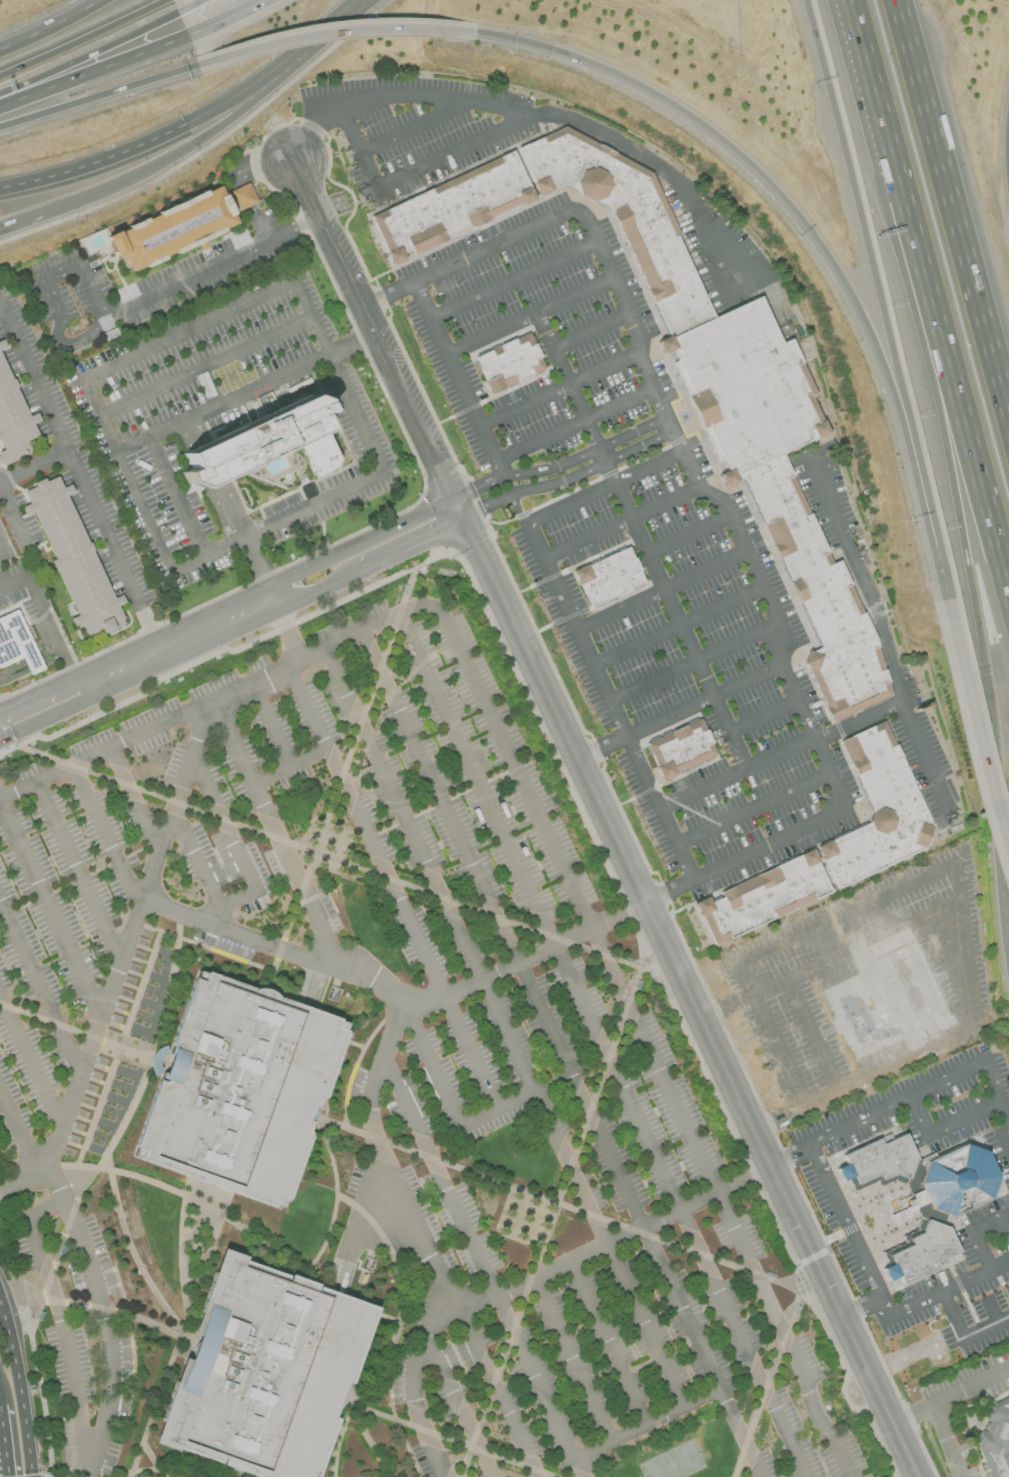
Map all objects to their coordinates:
road: (189, 4)
road: (222, 15)
road: (346, 18)
road: (48, 24)
road: (336, 24)
road: (80, 36)
road: (91, 51)
road: (94, 68)
road: (872, 79)
road: (101, 90)
road: (542, 112)
road: (415, 126)
parking lot: (417, 131)
road: (171, 132)
road: (208, 135)
road: (412, 171)
road: (240, 180)
road: (791, 204)
road: (952, 211)
road: (36, 217)
building: (176, 222)
parking lot: (717, 248)
road: (335, 249)
road: (875, 270)
road: (514, 282)
road: (292, 283)
road: (0, 305)
road: (122, 309)
road: (528, 316)
road: (590, 332)
road: (352, 347)
building: (508, 362)
road: (203, 367)
building: (687, 371)
road: (951, 371)
road: (557, 390)
road: (222, 406)
road: (938, 414)
building: (15, 416)
road: (412, 417)
road: (196, 428)
road: (185, 434)
building: (275, 444)
road: (490, 452)
road: (585, 456)
road: (214, 458)
road: (198, 465)
road: (33, 466)
road: (591, 468)
road: (499, 471)
road: (79, 477)
road: (476, 486)
road: (224, 487)
road: (212, 492)
parking lot: (826, 496)
road: (178, 497)
traffic signals: (452, 498)
road: (712, 499)
road: (484, 506)
road: (455, 508)
road: (517, 509)
road: (11, 511)
traffic signals: (459, 518)
road: (618, 525)
road: (689, 535)
road: (640, 540)
road: (357, 541)
road: (4, 542)
parking lot: (631, 542)
road: (408, 543)
road: (248, 545)
building: (76, 554)
road: (941, 570)
building: (608, 578)
road: (316, 588)
road: (661, 590)
road: (37, 601)
road: (879, 624)
road: (677, 625)
road: (572, 626)
road: (285, 628)
road: (180, 638)
building: (16, 642)
road: (694, 663)
road: (43, 689)
road: (678, 711)
road: (49, 715)
road: (762, 717)
road: (268, 726)
road: (975, 726)
building: (680, 750)
road: (926, 760)
parking lot: (927, 764)
road: (288, 767)
road: (735, 773)
road: (338, 781)
road: (570, 792)
road: (437, 798)
road: (134, 800)
road: (996, 807)
road: (752, 810)
road: (400, 815)
road: (224, 826)
road: (540, 826)
road: (273, 832)
road: (363, 832)
road: (107, 835)
building: (832, 846)
road: (195, 862)
road: (338, 862)
road: (79, 871)
road: (228, 904)
road: (849, 910)
road: (50, 912)
road: (650, 916)
road: (202, 949)
road: (283, 953)
road: (535, 956)
road: (120, 959)
road: (965, 983)
road: (40, 989)
road: (81, 1034)
parking lot: (522, 1040)
road: (602, 1045)
road: (116, 1051)
road: (469, 1052)
road: (30, 1061)
road: (354, 1066)
building: (239, 1089)
road: (911, 1095)
road: (447, 1101)
road: (778, 1119)
road: (943, 1126)
road: (18, 1136)
parking lot: (631, 1142)
road: (169, 1191)
road: (581, 1195)
building: (922, 1197)
road: (334, 1203)
road: (561, 1205)
road: (115, 1208)
road: (553, 1213)
road: (844, 1219)
road: (637, 1221)
road: (632, 1232)
road: (973, 1232)
road: (417, 1234)
road: (61, 1249)
road: (810, 1256)
road: (481, 1267)
road: (12, 1272)
road: (461, 1299)
road: (403, 1301)
road: (918, 1301)
road: (103, 1306)
road: (989, 1309)
road: (61, 1315)
road: (183, 1334)
road: (962, 1336)
road: (184, 1342)
road: (608, 1344)
road: (569, 1361)
building: (263, 1371)
road: (769, 1379)
road: (970, 1384)
road: (21, 1386)
road: (42, 1388)
road: (497, 1388)
road: (878, 1396)
road: (460, 1405)
road: (911, 1412)
road: (648, 1425)
parking lot: (791, 1426)
road: (445, 1437)
road: (4, 1439)
road: (370, 1439)
road: (946, 1439)
building: (995, 1439)
road: (154, 1460)
park: (674, 1461)
road: (91, 1465)
road: (329, 1467)
road: (175, 1470)
road: (233, 1472)

